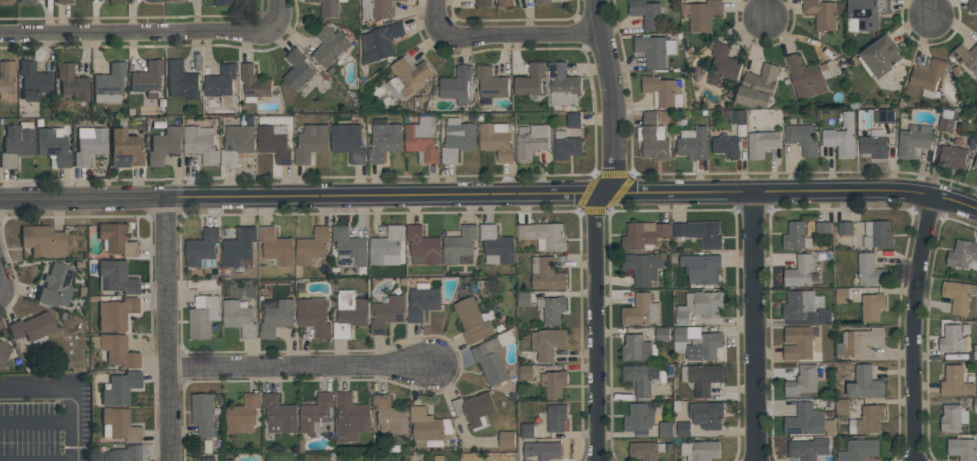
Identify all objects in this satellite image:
building: (26, 0)
building: (115, 0)
building: (154, 0)
building: (169, 0)
building: (7, 1)
building: (63, 1)
building: (542, 1)
building: (224, 2)
building: (483, 3)
building: (505, 3)
building: (972, 5)
building: (330, 8)
building: (378, 8)
road: (762, 9)
road: (928, 9)
building: (646, 13)
building: (822, 13)
building: (702, 14)
building: (865, 14)
road: (500, 30)
road: (157, 36)
building: (380, 42)
building: (330, 46)
building: (654, 50)
building: (880, 57)
building: (965, 57)
building: (723, 64)
building: (298, 69)
building: (147, 76)
building: (928, 76)
building: (6, 77)
building: (407, 77)
building: (807, 77)
building: (530, 80)
building: (34, 81)
building: (181, 81)
building: (220, 81)
building: (72, 82)
building: (109, 84)
building: (254, 84)
building: (490, 84)
building: (457, 85)
building: (563, 85)
building: (757, 87)
building: (663, 91)
building: (883, 116)
building: (737, 117)
building: (574, 120)
building: (947, 122)
building: (842, 137)
building: (802, 138)
building: (384, 139)
building: (653, 139)
building: (422, 140)
building: (458, 140)
building: (913, 140)
building: (496, 141)
building: (531, 142)
building: (17, 143)
building: (237, 143)
building: (275, 143)
building: (311, 143)
building: (348, 143)
building: (693, 143)
building: (762, 143)
building: (201, 144)
building: (90, 145)
building: (164, 145)
building: (53, 146)
building: (566, 146)
building: (726, 146)
building: (874, 146)
building: (125, 149)
building: (953, 157)
building: (975, 163)
road: (489, 196)
road: (594, 225)
building: (823, 228)
building: (845, 228)
building: (701, 234)
building: (878, 235)
building: (545, 236)
building: (643, 236)
building: (796, 237)
building: (43, 240)
building: (117, 240)
building: (276, 246)
building: (313, 246)
building: (461, 246)
building: (497, 246)
building: (349, 247)
building: (387, 247)
building: (423, 247)
building: (239, 248)
building: (203, 249)
building: (963, 255)
building: (642, 268)
building: (702, 269)
building: (800, 271)
building: (870, 271)
building: (546, 274)
building: (116, 277)
building: (56, 286)
building: (842, 296)
building: (958, 296)
building: (523, 299)
building: (423, 301)
building: (700, 307)
building: (872, 307)
building: (805, 309)
building: (553, 310)
building: (641, 311)
building: (116, 313)
building: (349, 313)
building: (387, 313)
building: (275, 316)
building: (314, 316)
building: (203, 317)
building: (240, 319)
building: (474, 321)
road: (754, 328)
road: (910, 328)
building: (33, 329)
road: (166, 330)
building: (662, 334)
building: (951, 339)
building: (547, 343)
building: (696, 343)
building: (797, 343)
building: (859, 343)
building: (637, 349)
building: (118, 350)
building: (3, 353)
building: (493, 357)
road: (297, 370)
building: (525, 373)
building: (702, 378)
building: (641, 379)
building: (803, 381)
building: (955, 382)
building: (554, 383)
building: (865, 383)
building: (120, 388)
road: (74, 389)
building: (842, 407)
building: (474, 409)
building: (203, 414)
building: (243, 415)
building: (279, 415)
building: (317, 415)
building: (706, 415)
building: (390, 416)
building: (351, 417)
building: (639, 417)
building: (556, 418)
building: (953, 418)
road: (38, 420)
building: (867, 420)
building: (809, 422)
building: (120, 425)
building: (429, 427)
building: (666, 429)
building: (683, 429)
building: (527, 431)
building: (507, 440)
building: (808, 449)
building: (962, 449)
building: (700, 450)
building: (859, 450)
building: (542, 451)
building: (645, 451)
building: (124, 454)
building: (438, 458)

